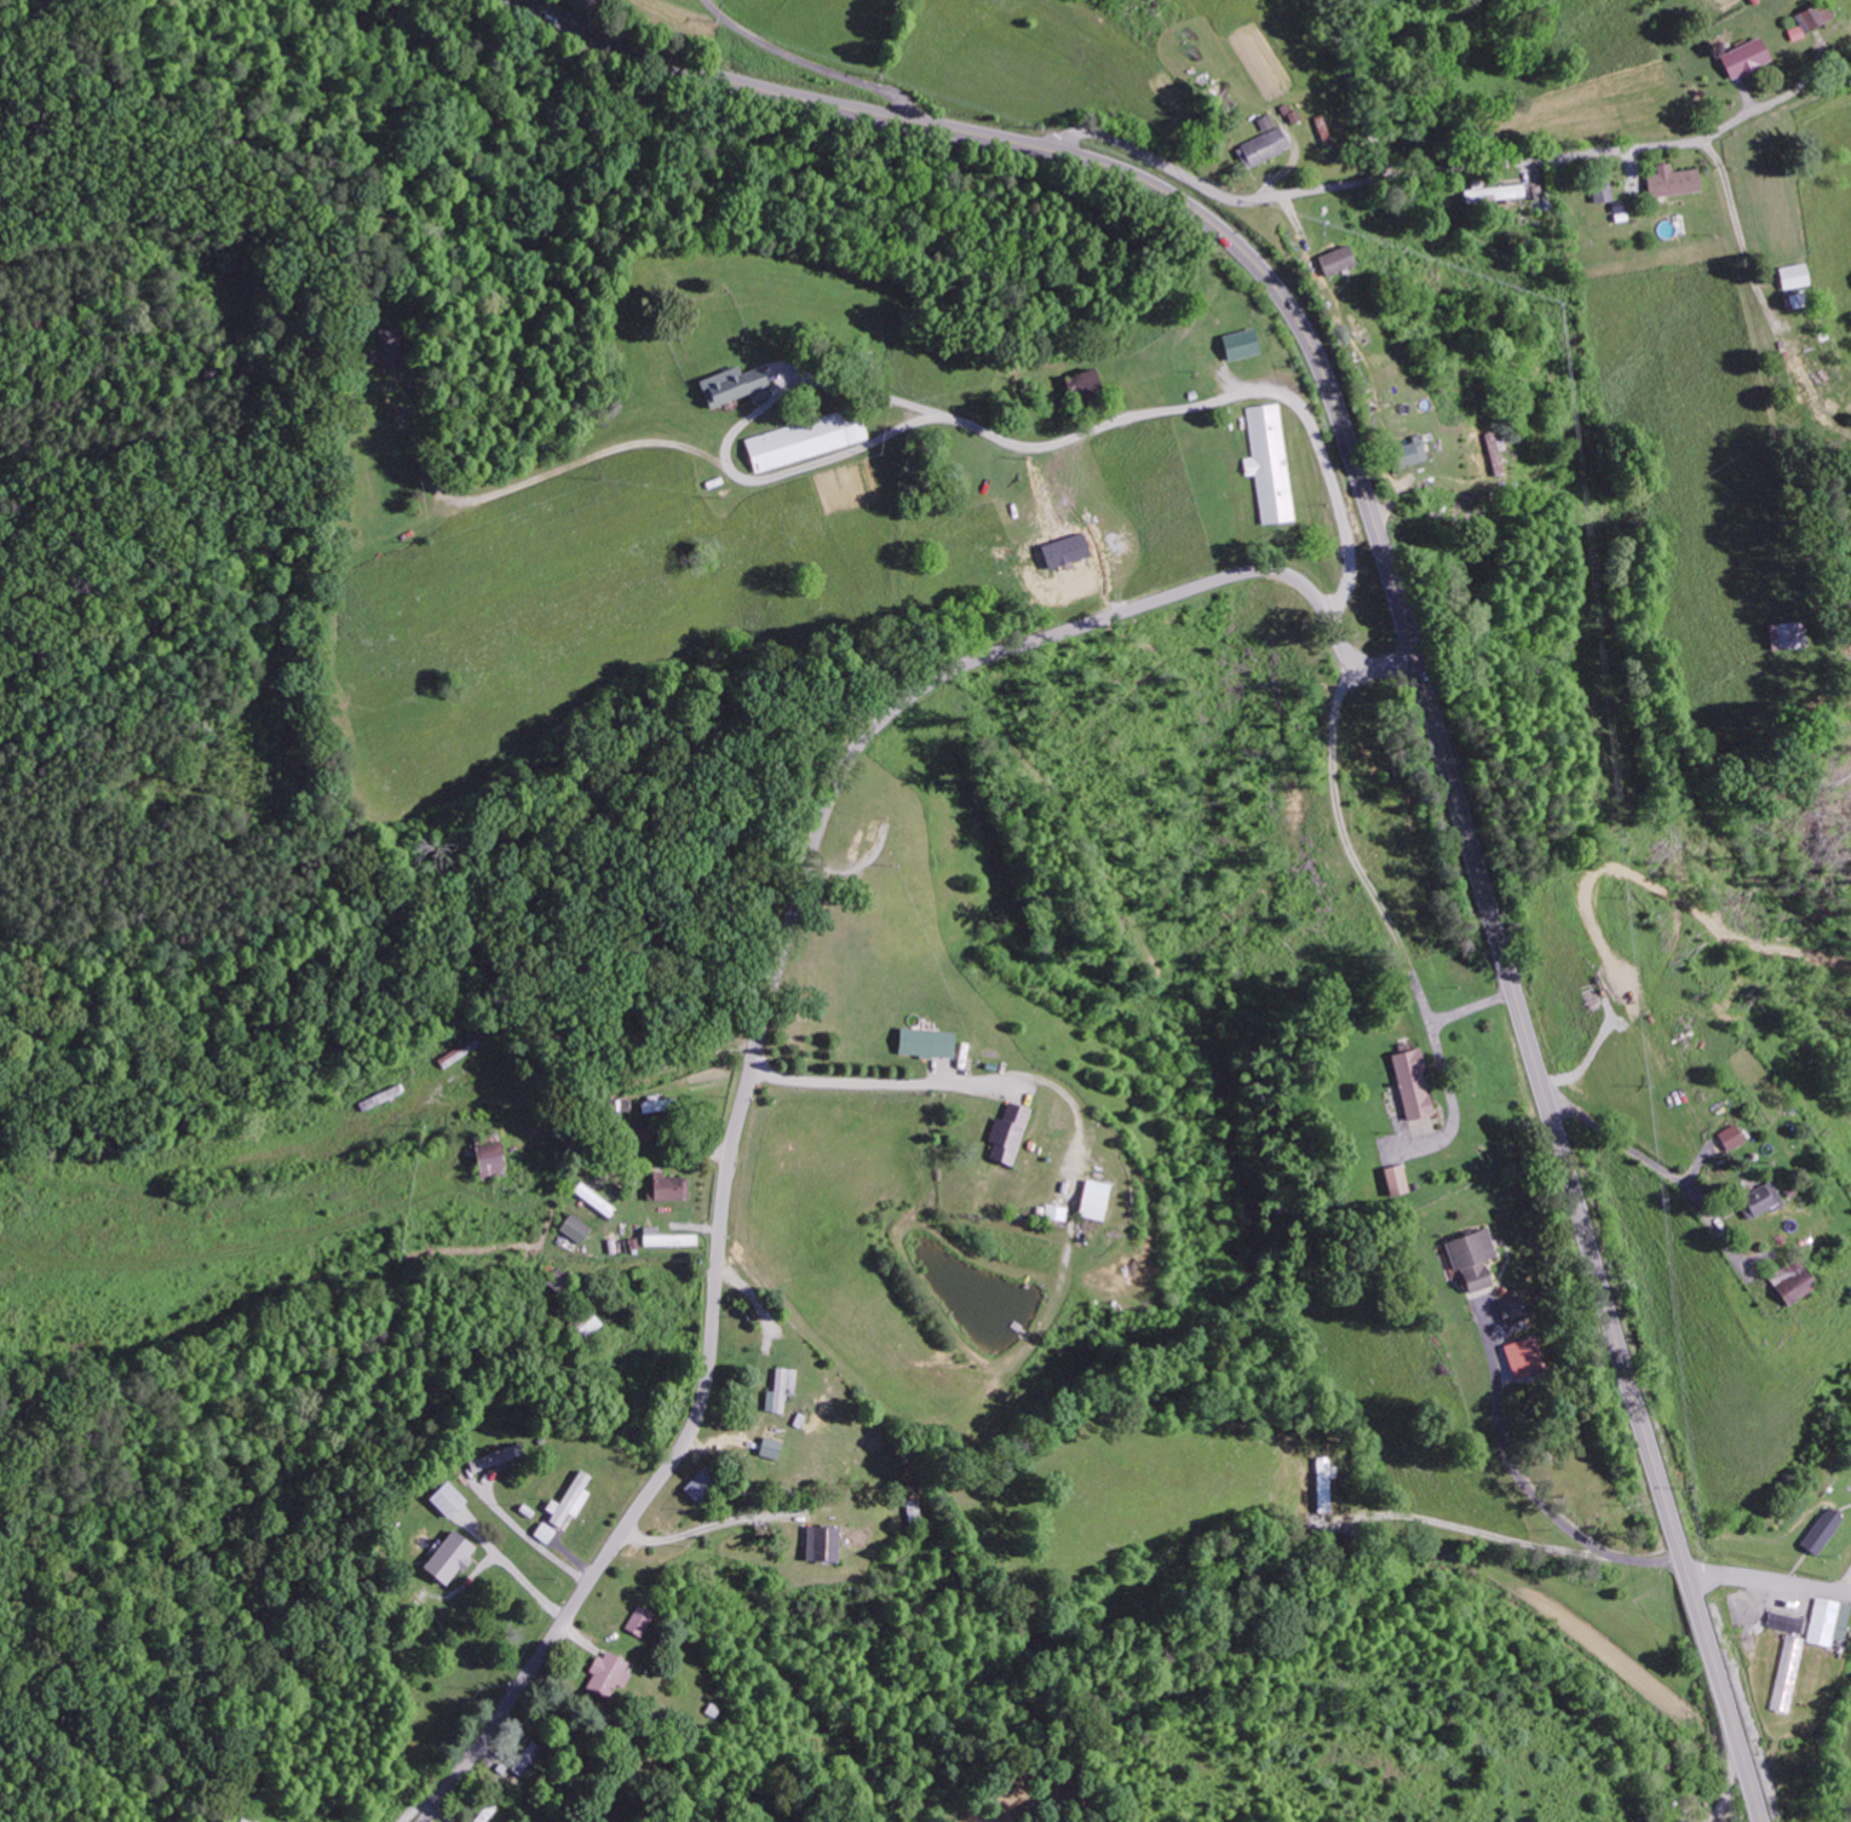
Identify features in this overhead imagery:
building: (1810, 19)
building: (1744, 58)
road: (810, 63)
building: (1263, 143)
road: (1399, 178)
building: (1671, 182)
building: (1600, 189)
building: (1493, 194)
building: (1335, 261)
building: (1790, 277)
building: (1240, 345)
building: (731, 385)
building: (1082, 386)
building: (806, 439)
building: (1409, 453)
building: (1495, 454)
building: (1267, 461)
road: (1414, 657)
road: (771, 998)
building: (925, 1042)
building: (1410, 1084)
building: (1007, 1133)
building: (1729, 1137)
building: (488, 1160)
building: (1395, 1179)
building: (669, 1186)
building: (1093, 1200)
building: (1757, 1200)
building: (1054, 1212)
building: (574, 1228)
building: (666, 1237)
building: (1470, 1258)
building: (1789, 1281)
building: (1508, 1306)
building: (586, 1322)
building: (1529, 1353)
building: (780, 1390)
building: (769, 1448)
building: (495, 1458)
building: (700, 1484)
building: (447, 1499)
building: (570, 1500)
building: (1822, 1530)
building: (545, 1533)
building: (820, 1544)
building: (449, 1558)
road: (1769, 1579)
building: (1829, 1617)
building: (638, 1620)
building: (1786, 1622)
building: (1788, 1673)
building: (607, 1674)
building: (525, 1758)
building: (247, 1820)

